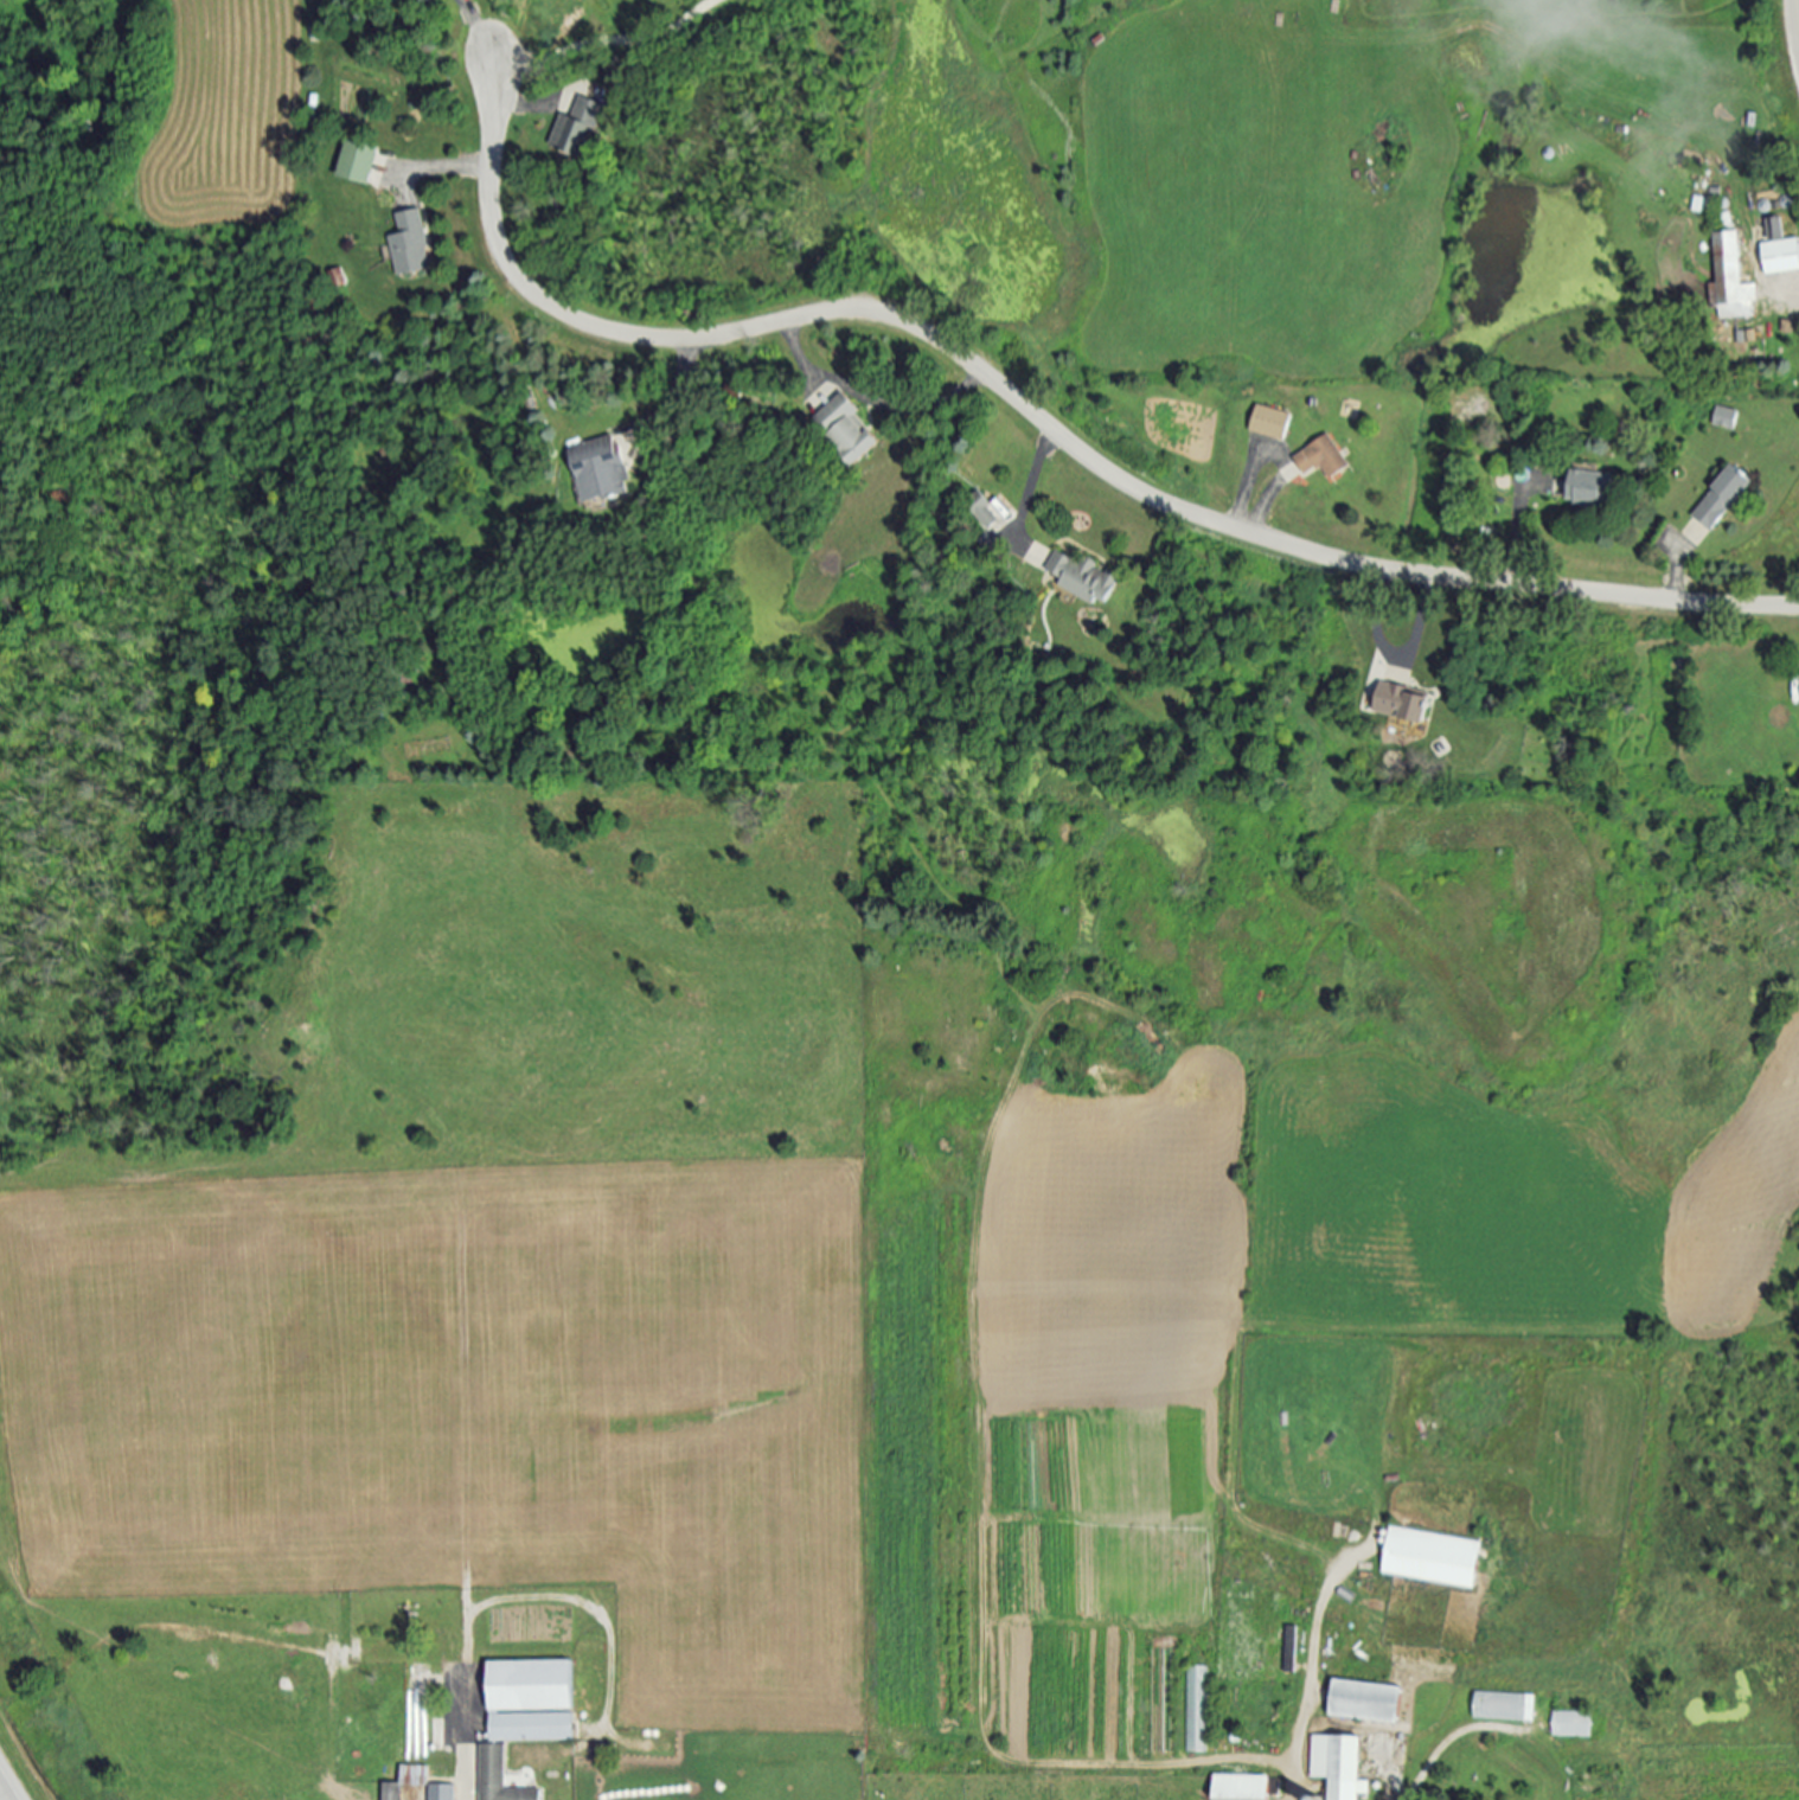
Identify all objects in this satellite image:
road: (1795, 23)
road: (475, 32)
road: (601, 37)
building: (577, 129)
building: (358, 162)
building: (410, 241)
building: (1780, 248)
building: (1731, 275)
road: (1795, 284)
road: (873, 399)
building: (1724, 417)
road: (1044, 418)
building: (1270, 423)
building: (847, 430)
building: (1323, 457)
building: (601, 469)
building: (1589, 488)
building: (1722, 498)
building: (990, 508)
building: (1080, 578)
building: (1397, 702)
building: (1434, 1556)
building: (529, 1702)
building: (1364, 1702)
building: (1196, 1710)
building: (1570, 1724)
road: (1453, 1743)
building: (1337, 1766)
building: (497, 1777)
road: (8, 1782)
building: (1595, 1783)
building: (1241, 1788)
building: (391, 1792)
building: (441, 1793)

